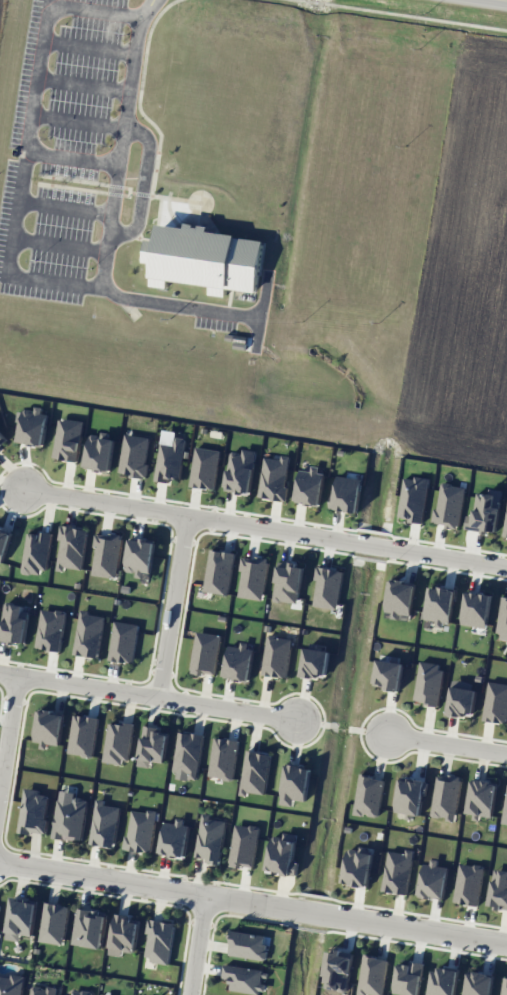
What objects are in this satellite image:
road: (145, 8)
road: (143, 183)
building: (149, 250)
building: (206, 259)
road: (8, 272)
road: (172, 303)
building: (33, 426)
building: (68, 439)
building: (2, 440)
building: (99, 452)
building: (134, 455)
building: (170, 457)
building: (205, 468)
building: (241, 471)
building: (275, 478)
building: (310, 486)
road: (112, 493)
building: (347, 493)
building: (413, 498)
building: (449, 505)
building: (485, 511)
building: (505, 528)
road: (349, 530)
building: (3, 543)
building: (71, 548)
building: (36, 553)
building: (106, 555)
building: (140, 557)
building: (219, 571)
building: (253, 577)
building: (288, 582)
building: (328, 587)
building: (400, 597)
road: (175, 603)
building: (439, 605)
building: (476, 609)
building: (502, 620)
building: (14, 622)
building: (50, 629)
building: (88, 634)
building: (123, 641)
building: (205, 653)
building: (276, 656)
building: (239, 661)
building: (315, 663)
building: (388, 674)
building: (428, 682)
road: (79, 687)
building: (461, 698)
building: (495, 703)
road: (228, 710)
building: (49, 727)
building: (83, 735)
road: (9, 737)
road: (448, 741)
building: (117, 742)
building: (152, 746)
building: (188, 753)
building: (223, 758)
building: (255, 772)
building: (295, 784)
building: (368, 795)
building: (410, 796)
building: (446, 797)
building: (482, 797)
building: (505, 810)
building: (34, 811)
building: (70, 819)
building: (104, 824)
building: (140, 831)
building: (174, 838)
building: (210, 839)
building: (243, 845)
building: (282, 854)
building: (357, 868)
building: (397, 872)
building: (433, 880)
building: (468, 884)
building: (499, 889)
road: (253, 903)
building: (21, 917)
building: (54, 923)
building: (90, 927)
building: (124, 935)
building: (159, 941)
building: (247, 945)
road: (198, 946)
building: (337, 970)
building: (372, 975)
building: (244, 978)
building: (408, 978)
building: (443, 981)
building: (479, 983)
building: (12, 984)
building: (504, 986)
building: (42, 990)
building: (76, 993)

